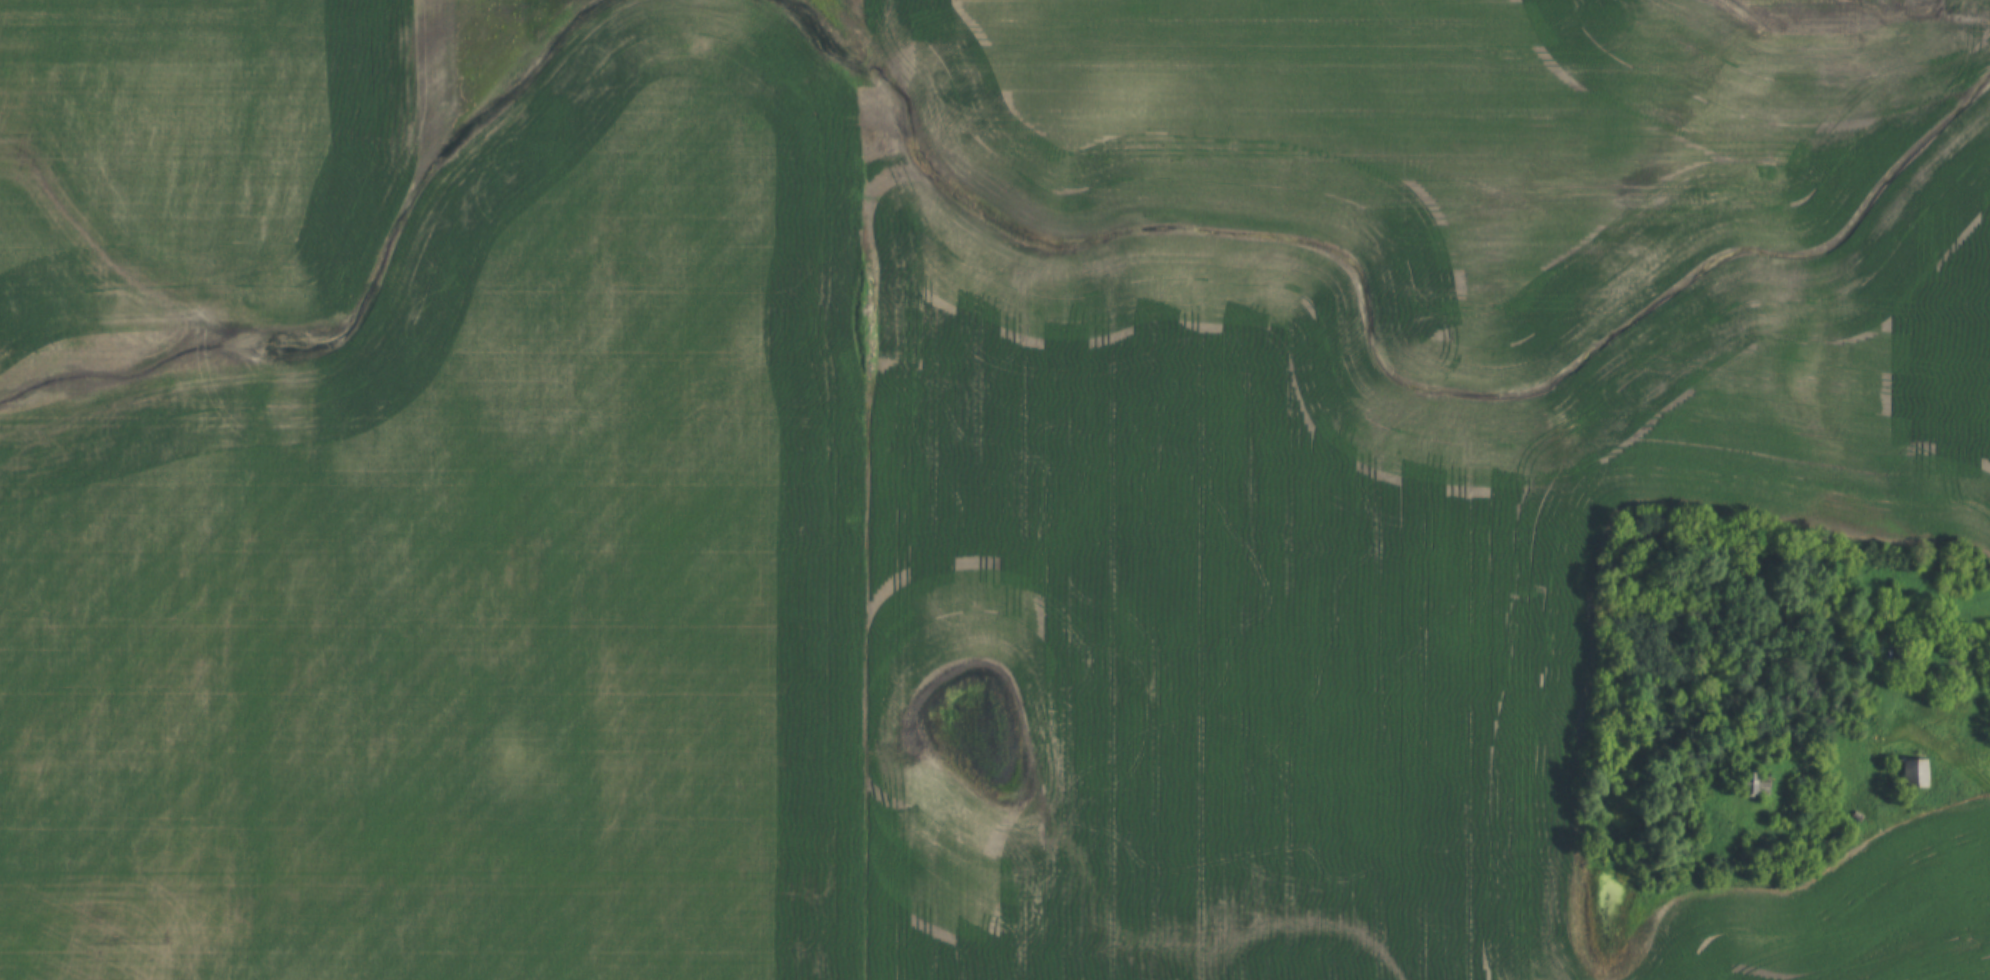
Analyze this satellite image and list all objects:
building: (1915, 773)
building: (1756, 782)

